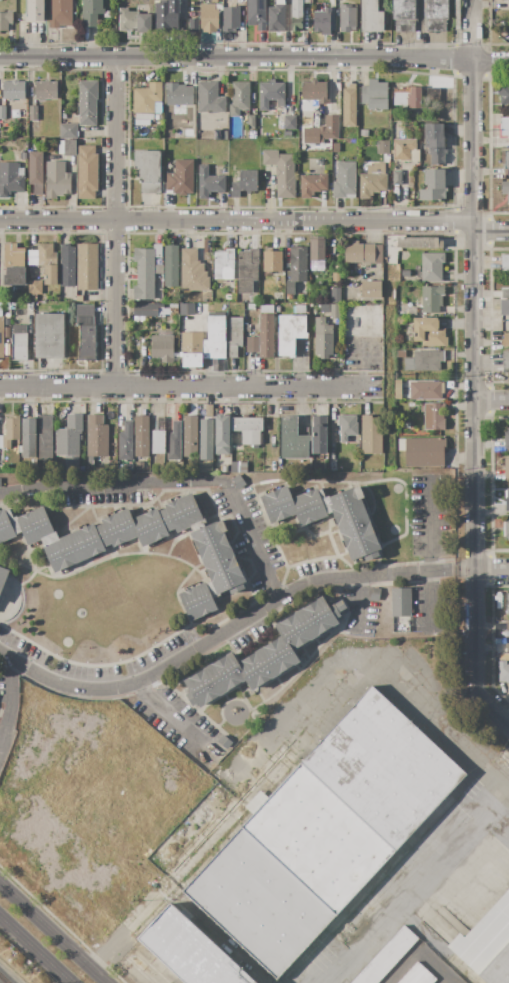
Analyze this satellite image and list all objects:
building: (502, 0)
building: (505, 0)
building: (34, 10)
building: (90, 12)
building: (60, 13)
building: (256, 13)
building: (166, 14)
building: (297, 14)
building: (404, 15)
building: (436, 15)
building: (209, 17)
building: (276, 17)
building: (371, 17)
building: (347, 18)
building: (230, 19)
building: (321, 19)
building: (5, 20)
building: (134, 22)
building: (501, 32)
road: (460, 46)
road: (254, 58)
building: (13, 90)
building: (46, 90)
building: (314, 92)
building: (178, 94)
building: (271, 95)
building: (375, 95)
building: (504, 95)
building: (406, 96)
building: (239, 98)
building: (431, 98)
building: (209, 99)
building: (147, 101)
building: (87, 102)
building: (349, 106)
building: (3, 112)
building: (33, 113)
building: (64, 116)
building: (446, 117)
building: (251, 123)
building: (290, 123)
building: (504, 126)
building: (328, 128)
building: (68, 131)
building: (286, 133)
building: (364, 133)
building: (223, 136)
building: (435, 144)
building: (383, 145)
building: (67, 147)
building: (404, 150)
building: (22, 156)
building: (505, 161)
building: (147, 171)
building: (35, 172)
building: (86, 172)
building: (281, 172)
building: (11, 178)
building: (180, 178)
building: (397, 178)
building: (57, 180)
building: (372, 180)
building: (344, 181)
building: (209, 183)
building: (245, 183)
building: (312, 184)
building: (433, 185)
building: (505, 189)
road: (255, 221)
road: (115, 222)
building: (418, 242)
building: (362, 253)
building: (316, 254)
building: (272, 261)
building: (45, 262)
building: (505, 263)
building: (67, 265)
building: (223, 265)
building: (432, 266)
building: (13, 267)
building: (87, 267)
building: (170, 267)
building: (296, 268)
building: (247, 270)
building: (146, 271)
building: (192, 272)
building: (405, 273)
building: (35, 288)
building: (370, 289)
building: (505, 293)
building: (335, 295)
building: (184, 297)
building: (33, 298)
building: (231, 298)
building: (79, 299)
building: (432, 299)
building: (504, 307)
building: (185, 309)
building: (146, 310)
building: (334, 312)
building: (411, 312)
building: (400, 321)
building: (6, 322)
building: (1, 331)
building: (86, 332)
building: (428, 332)
building: (290, 333)
building: (49, 334)
building: (234, 336)
building: (262, 338)
building: (323, 338)
building: (505, 340)
building: (19, 343)
building: (204, 344)
road: (475, 347)
building: (163, 348)
building: (401, 353)
building: (424, 361)
building: (505, 361)
road: (184, 387)
building: (426, 390)
road: (493, 400)
building: (209, 411)
building: (161, 421)
building: (439, 422)
building: (347, 427)
building: (248, 430)
building: (10, 432)
building: (222, 434)
building: (371, 434)
building: (318, 435)
building: (69, 436)
building: (96, 436)
building: (141, 436)
building: (44, 437)
building: (190, 438)
building: (28, 439)
building: (293, 440)
building: (506, 440)
building: (125, 442)
building: (174, 442)
building: (205, 442)
building: (158, 443)
building: (422, 451)
building: (139, 466)
building: (129, 467)
building: (238, 467)
building: (506, 469)
building: (3, 470)
building: (238, 482)
road: (178, 484)
building: (507, 500)
building: (278, 505)
building: (308, 506)
building: (182, 515)
building: (353, 524)
building: (35, 525)
building: (8, 526)
building: (149, 527)
building: (116, 529)
building: (506, 529)
building: (72, 547)
road: (431, 554)
building: (218, 558)
road: (493, 570)
building: (3, 577)
building: (375, 594)
building: (198, 600)
building: (400, 602)
building: (507, 602)
road: (357, 604)
building: (309, 622)
building: (501, 626)
road: (233, 632)
building: (507, 647)
building: (267, 663)
building: (503, 672)
building: (214, 680)
road: (7, 697)
road: (492, 711)
road: (172, 714)
building: (224, 742)
building: (383, 769)
road: (503, 786)
building: (316, 838)
building: (258, 902)
road: (53, 933)
building: (487, 944)
road: (36, 948)
building: (189, 951)
building: (385, 957)
building: (415, 975)
railway: (4, 978)

